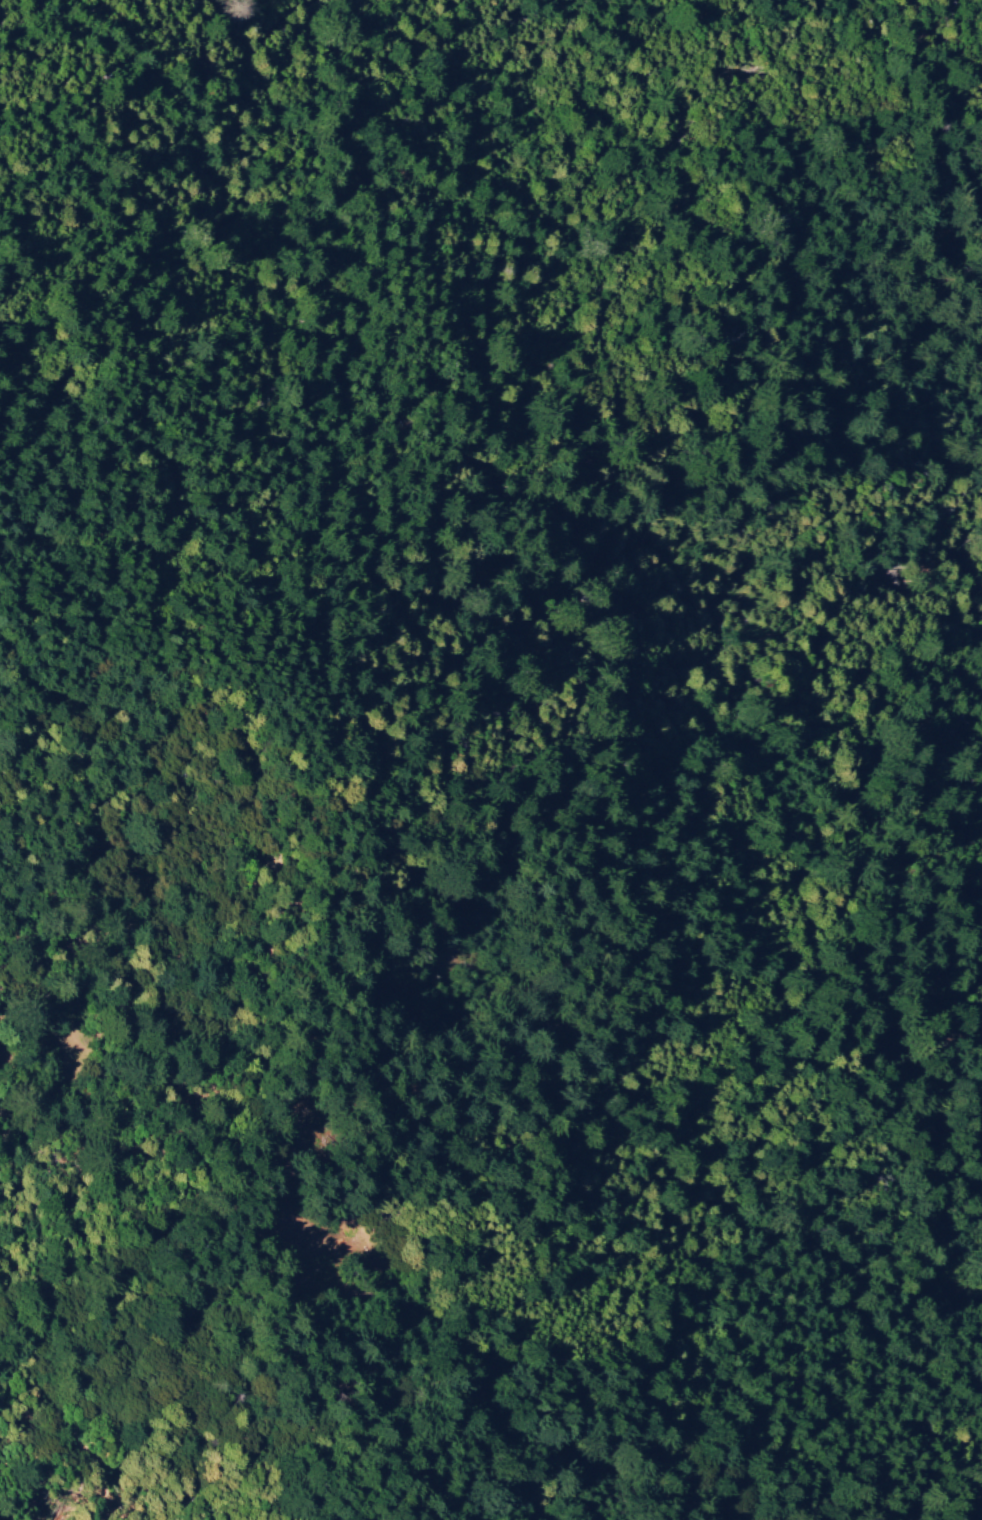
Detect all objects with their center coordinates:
road: (27, 1117)
road: (81, 1443)

